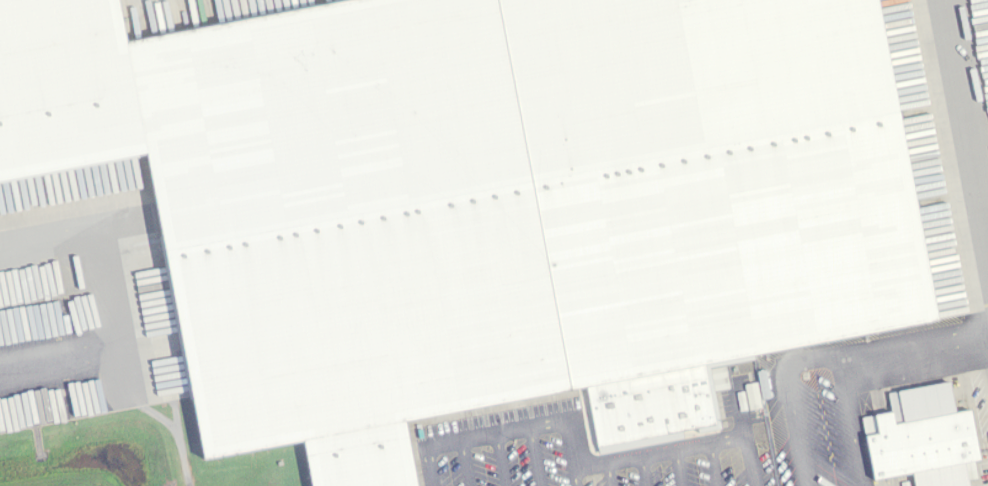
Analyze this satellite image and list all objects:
road: (968, 120)
building: (476, 201)
road: (140, 293)
road: (825, 356)
road: (836, 421)
road: (743, 431)
building: (918, 443)
road: (537, 456)
road: (572, 457)
road: (501, 459)
road: (467, 462)
road: (683, 468)
road: (643, 469)
road: (730, 472)
road: (576, 475)
road: (610, 479)

